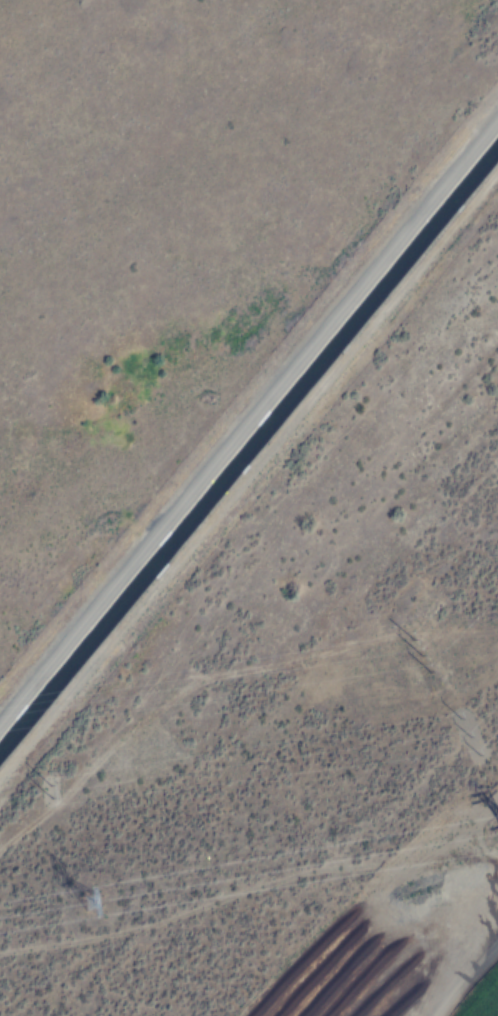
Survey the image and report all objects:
power tower: (465, 735)
power tower: (52, 795)
power tower: (74, 902)

